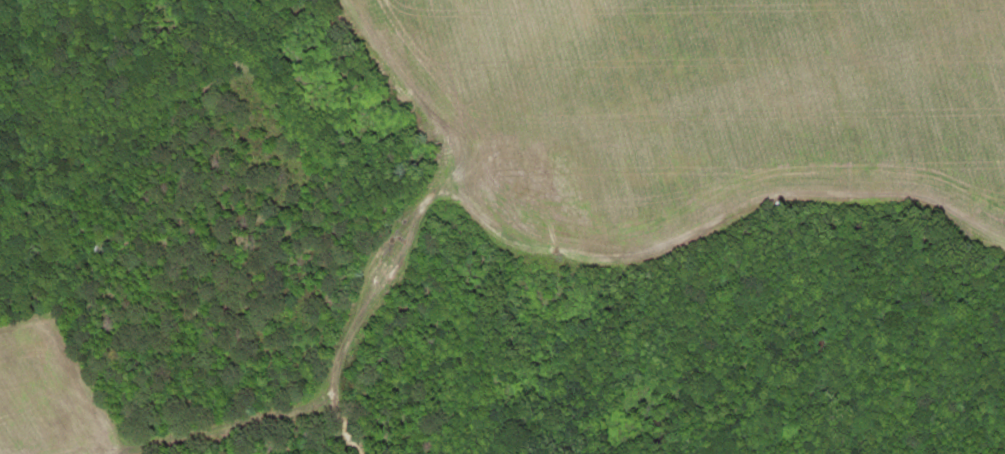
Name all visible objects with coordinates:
crop: (709, 106)
crop: (52, 389)

